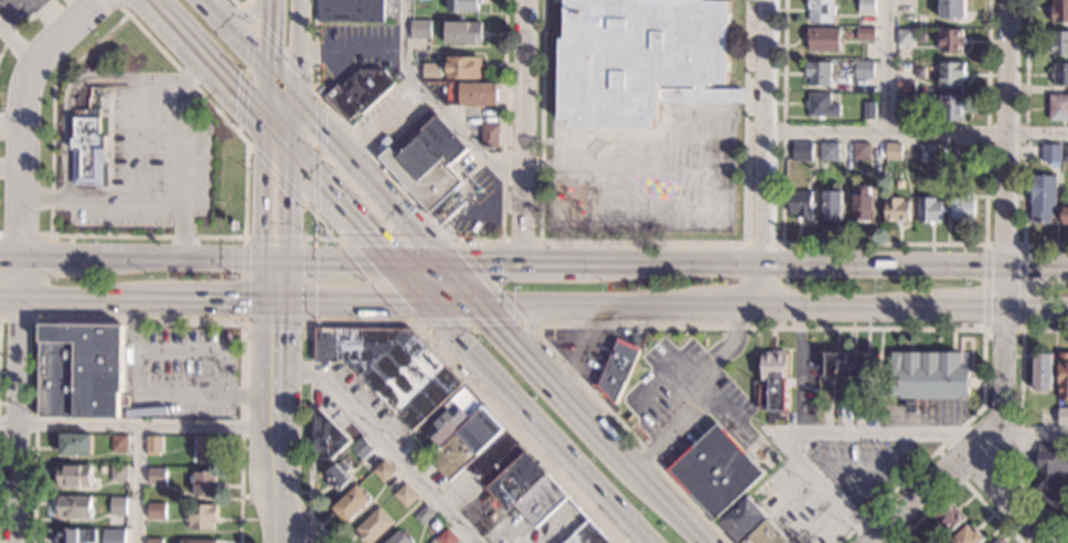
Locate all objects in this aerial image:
road: (269, 1)
road: (234, 2)
road: (243, 2)
building: (462, 6)
road: (149, 7)
building: (865, 7)
road: (117, 8)
building: (951, 9)
building: (350, 11)
building: (819, 11)
building: (1059, 11)
road: (243, 13)
road: (244, 13)
road: (22, 22)
building: (419, 30)
road: (234, 33)
road: (256, 33)
road: (266, 33)
building: (461, 33)
building: (864, 33)
building: (903, 36)
building: (822, 39)
building: (950, 41)
road: (18, 43)
building: (1059, 43)
road: (295, 49)
road: (349, 51)
building: (640, 60)
traffic signals: (265, 66)
building: (463, 68)
road: (888, 68)
building: (862, 70)
building: (431, 72)
building: (818, 73)
building: (950, 74)
building: (1059, 75)
road: (214, 76)
road: (279, 82)
building: (904, 86)
building: (94, 93)
road: (199, 93)
building: (359, 93)
building: (464, 94)
road: (317, 97)
traffic signals: (293, 98)
road: (270, 102)
building: (903, 103)
road: (435, 105)
building: (821, 105)
building: (949, 108)
building: (1058, 108)
building: (867, 111)
road: (21, 113)
road: (66, 115)
road: (285, 118)
road: (10, 123)
road: (382, 123)
road: (319, 127)
road: (523, 131)
road: (10, 135)
building: (489, 136)
road: (916, 137)
traffic signals: (277, 138)
road: (546, 140)
road: (1023, 145)
building: (86, 149)
road: (763, 151)
building: (800, 151)
building: (858, 151)
building: (891, 152)
building: (968, 152)
building: (926, 153)
building: (955, 153)
road: (1005, 153)
building: (1050, 153)
building: (1064, 153)
road: (129, 156)
building: (827, 157)
building: (425, 159)
road: (175, 171)
road: (276, 199)
building: (1040, 199)
road: (334, 200)
road: (153, 203)
building: (862, 203)
building: (799, 204)
building: (829, 205)
building: (961, 209)
building: (895, 210)
building: (928, 210)
road: (391, 211)
road: (733, 212)
building: (1064, 216)
road: (321, 223)
road: (24, 234)
road: (334, 238)
road: (450, 239)
road: (520, 242)
road: (642, 242)
road: (883, 243)
road: (1003, 244)
road: (10, 255)
road: (61, 256)
road: (188, 259)
traffic signals: (276, 260)
road: (333, 262)
traffic signals: (392, 264)
road: (415, 264)
traffic signals: (438, 264)
road: (513, 264)
road: (829, 264)
road: (780, 266)
road: (20, 277)
road: (276, 280)
road: (409, 283)
road: (457, 284)
road: (983, 287)
road: (1021, 287)
road: (40, 294)
road: (10, 298)
road: (85, 299)
road: (212, 300)
traffic signals: (276, 301)
road: (351, 302)
traffic signals: (428, 302)
road: (452, 302)
traffic signals: (477, 304)
road: (586, 304)
road: (729, 304)
road: (852, 306)
road: (972, 308)
road: (1036, 309)
road: (308, 317)
road: (139, 319)
road: (395, 321)
road: (519, 321)
road: (528, 324)
road: (528, 326)
road: (750, 327)
road: (1001, 330)
road: (202, 349)
building: (852, 365)
building: (391, 368)
building: (617, 370)
building: (81, 371)
building: (1043, 372)
road: (695, 373)
building: (927, 376)
building: (1062, 376)
building: (773, 385)
road: (1002, 385)
road: (158, 395)
road: (713, 400)
parking lot: (688, 402)
building: (886, 409)
building: (872, 411)
building: (857, 413)
building: (1062, 416)
road: (1019, 419)
road: (18, 420)
road: (276, 422)
road: (538, 423)
road: (590, 423)
road: (137, 425)
road: (800, 428)
road: (671, 430)
road: (1029, 433)
building: (327, 437)
road: (382, 441)
building: (118, 443)
building: (75, 444)
building: (153, 444)
building: (408, 445)
building: (206, 448)
building: (361, 448)
building: (491, 458)
road: (949, 465)
building: (383, 471)
building: (715, 471)
building: (118, 472)
building: (75, 476)
building: (157, 476)
building: (337, 476)
building: (1051, 477)
road: (960, 481)
road: (137, 485)
building: (203, 485)
road: (278, 496)
building: (405, 496)
road: (923, 498)
road: (1014, 498)
building: (117, 502)
building: (351, 504)
building: (74, 507)
building: (156, 511)
building: (423, 515)
building: (201, 517)
building: (949, 517)
building: (743, 520)
building: (373, 526)
road: (292, 528)
road: (309, 530)
building: (588, 534)
building: (768, 534)
building: (76, 535)
building: (114, 536)
building: (966, 536)
building: (397, 537)
building: (446, 537)
building: (153, 541)
building: (196, 541)
building: (996, 541)
building: (914, 542)
road: (1067, 542)

